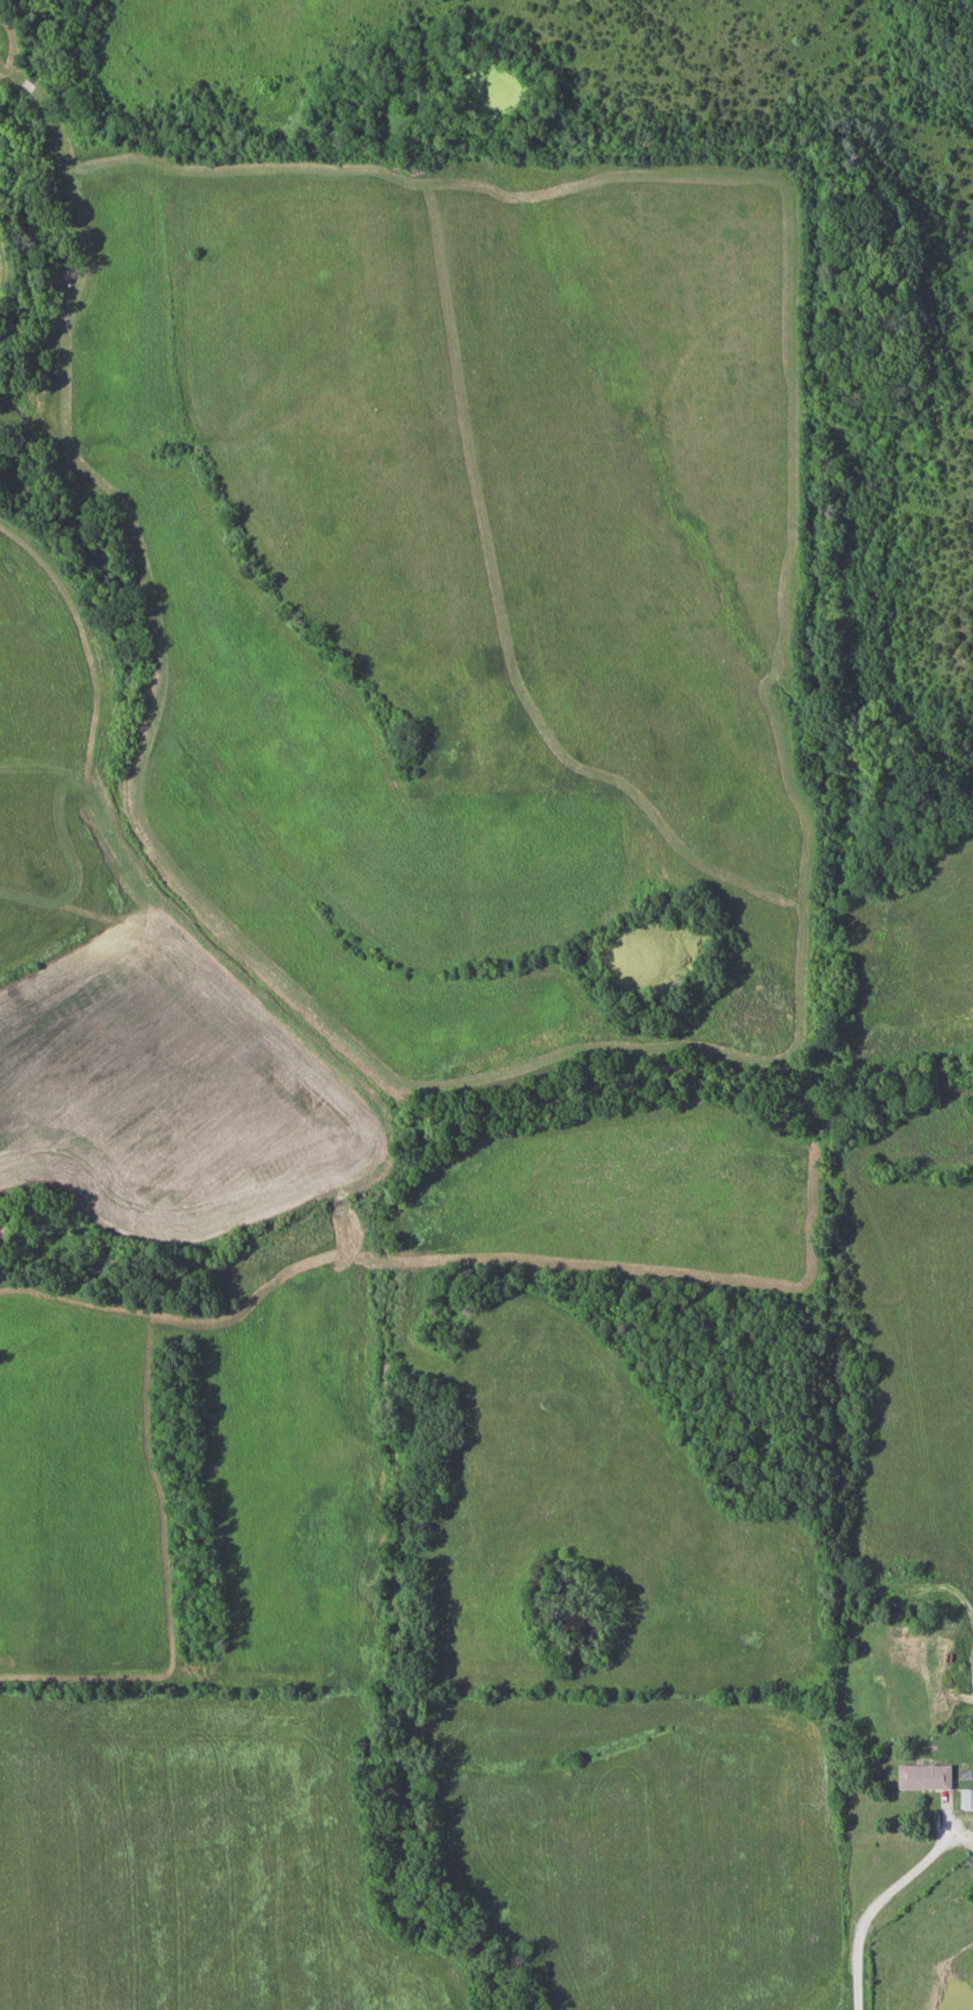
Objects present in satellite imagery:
building: (948, 1648)
building: (927, 1777)
building: (968, 1798)
road: (880, 1906)

